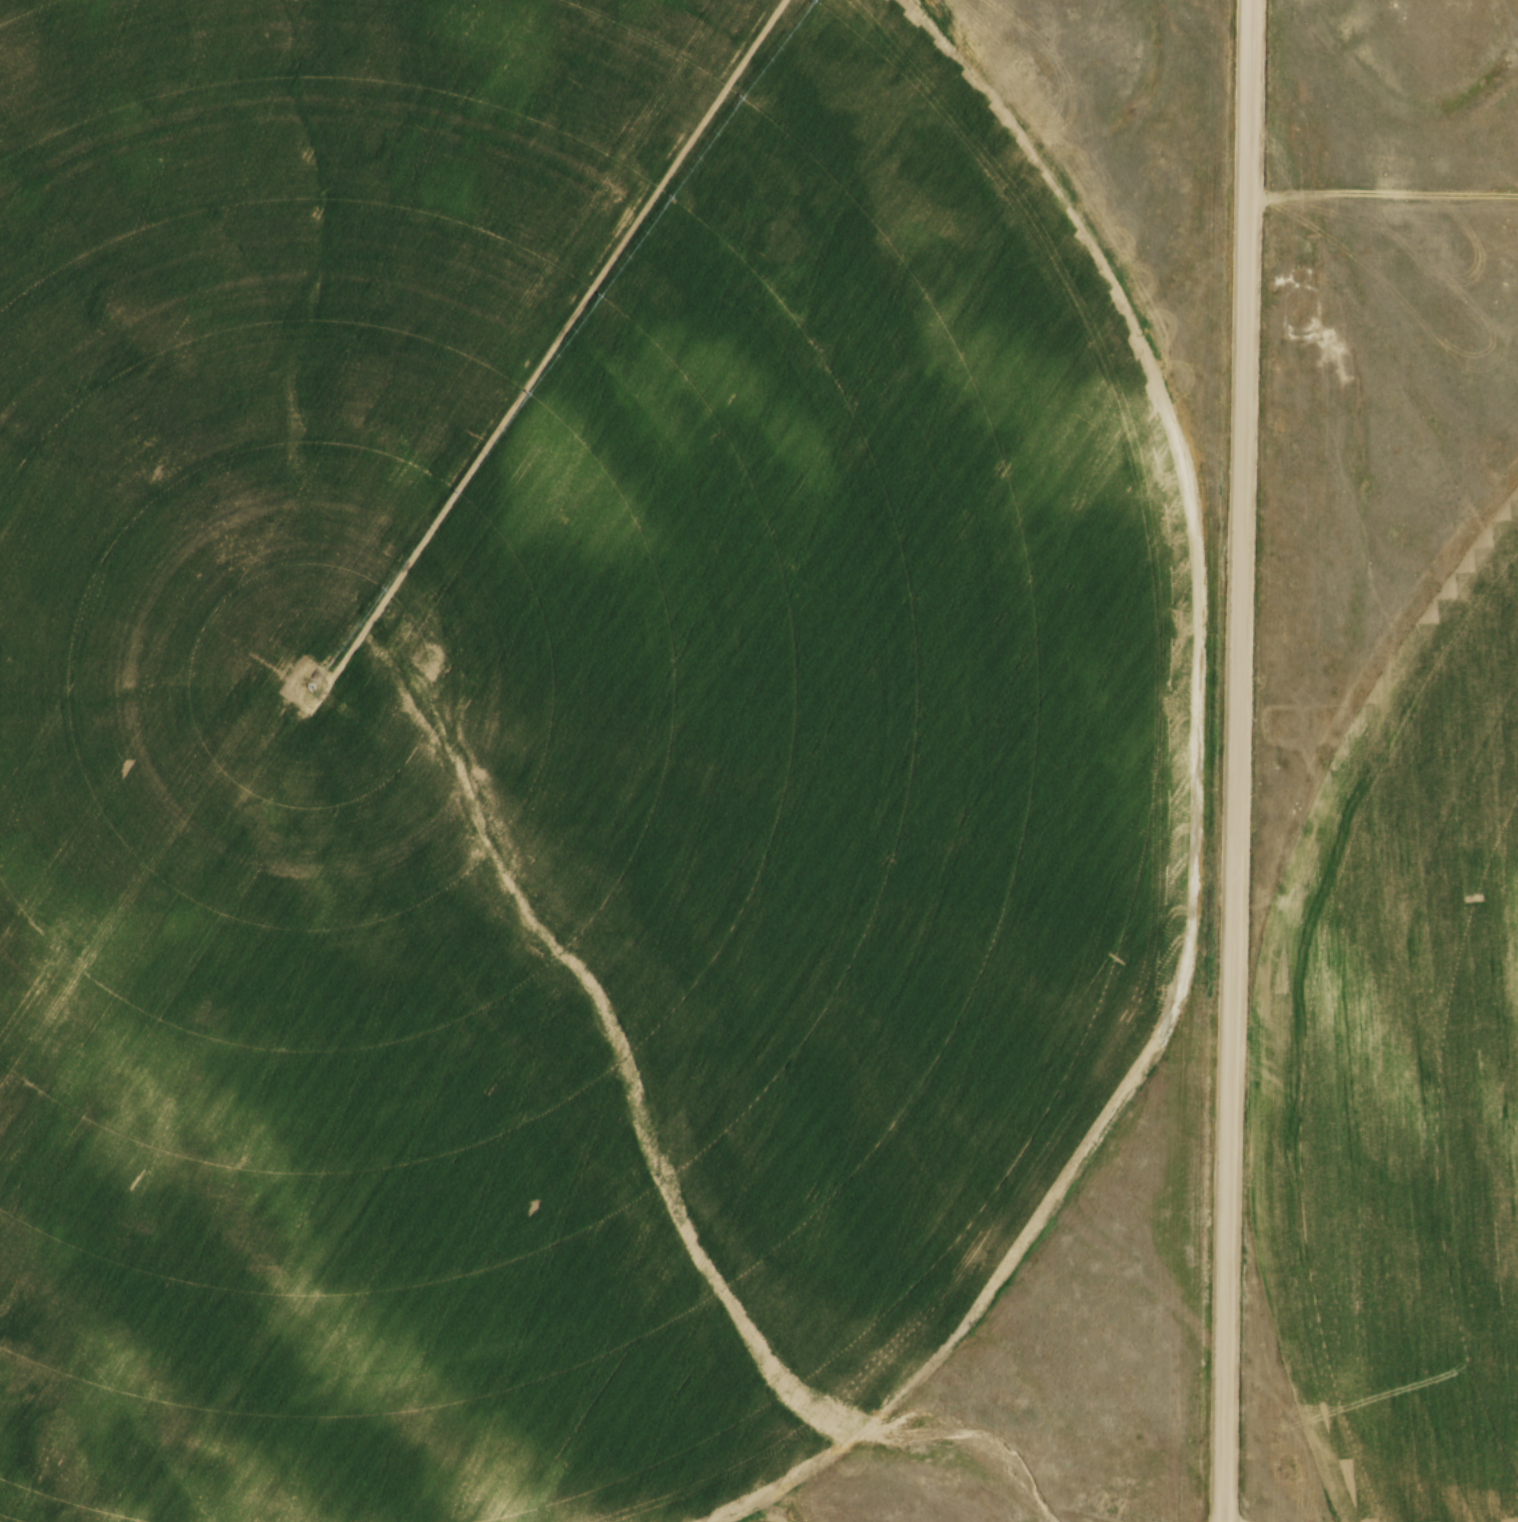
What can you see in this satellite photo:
road: (1244, 761)

